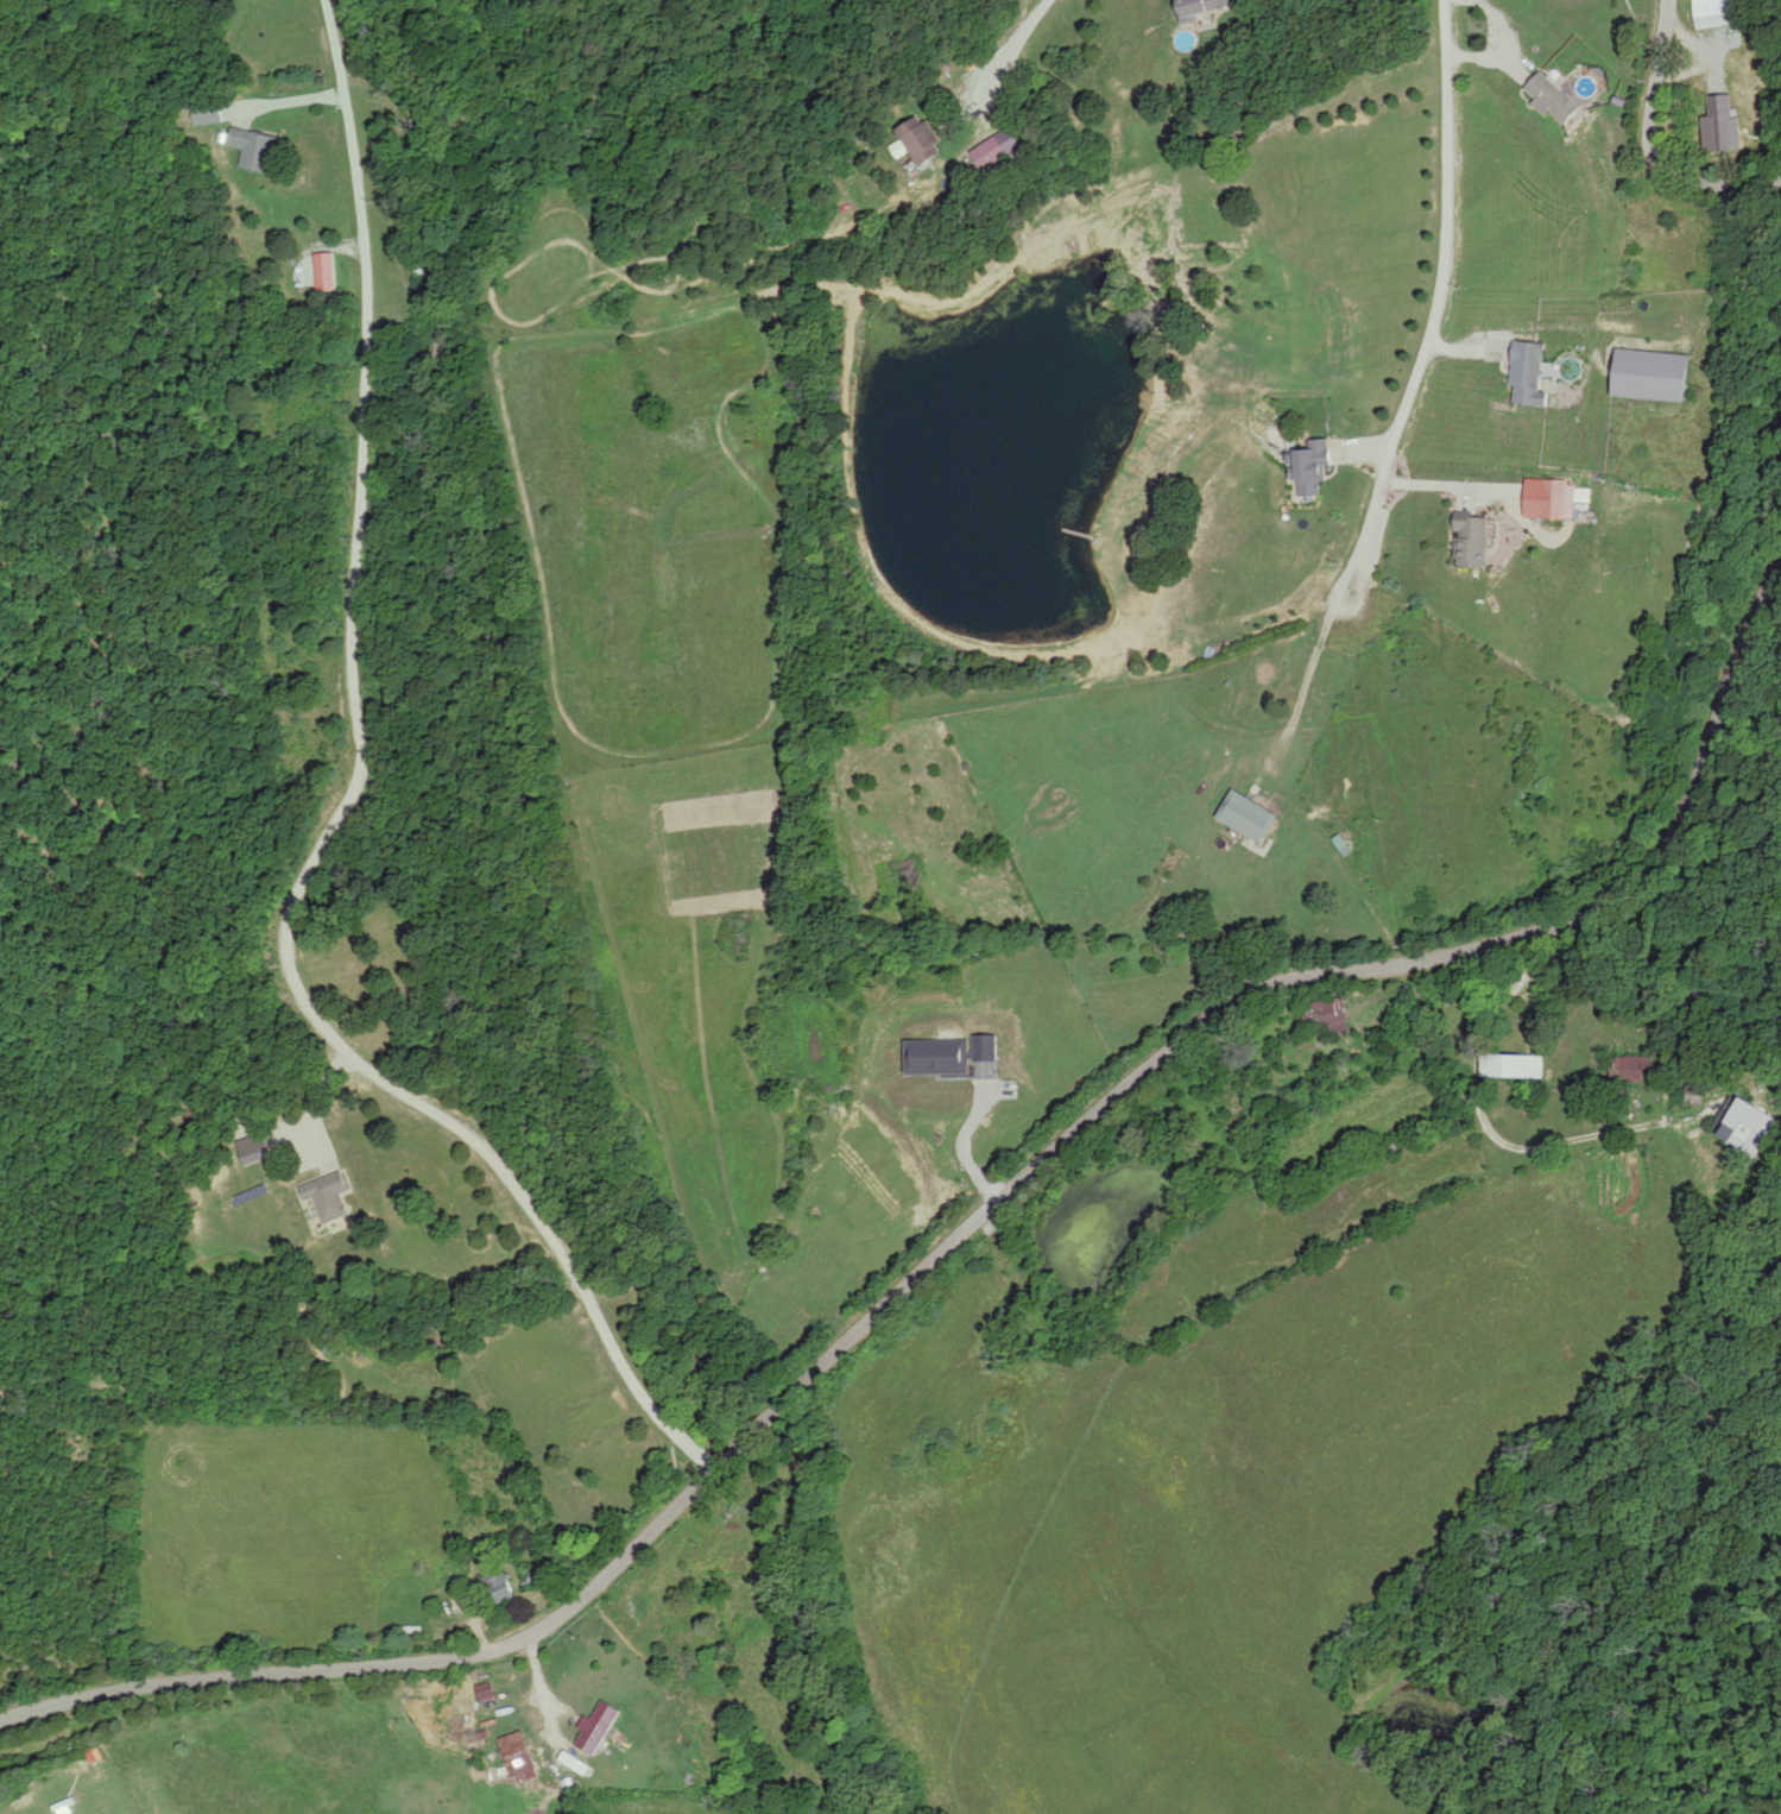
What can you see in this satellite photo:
building: (1207, 7)
building: (1718, 13)
building: (1558, 100)
road: (1655, 106)
building: (207, 113)
building: (1724, 122)
building: (920, 141)
building: (257, 150)
building: (992, 156)
road: (1438, 311)
building: (1531, 374)
building: (1314, 468)
road: (1445, 493)
building: (1556, 500)
building: (1474, 542)
road: (1306, 689)
road: (343, 813)
building: (1250, 817)
building: (1327, 1018)
building: (1515, 1067)
building: (1632, 1070)
building: (1745, 1127)
road: (1482, 1130)
building: (329, 1196)
road: (956, 1205)
building: (505, 1588)
building: (608, 1681)
building: (519, 1757)

